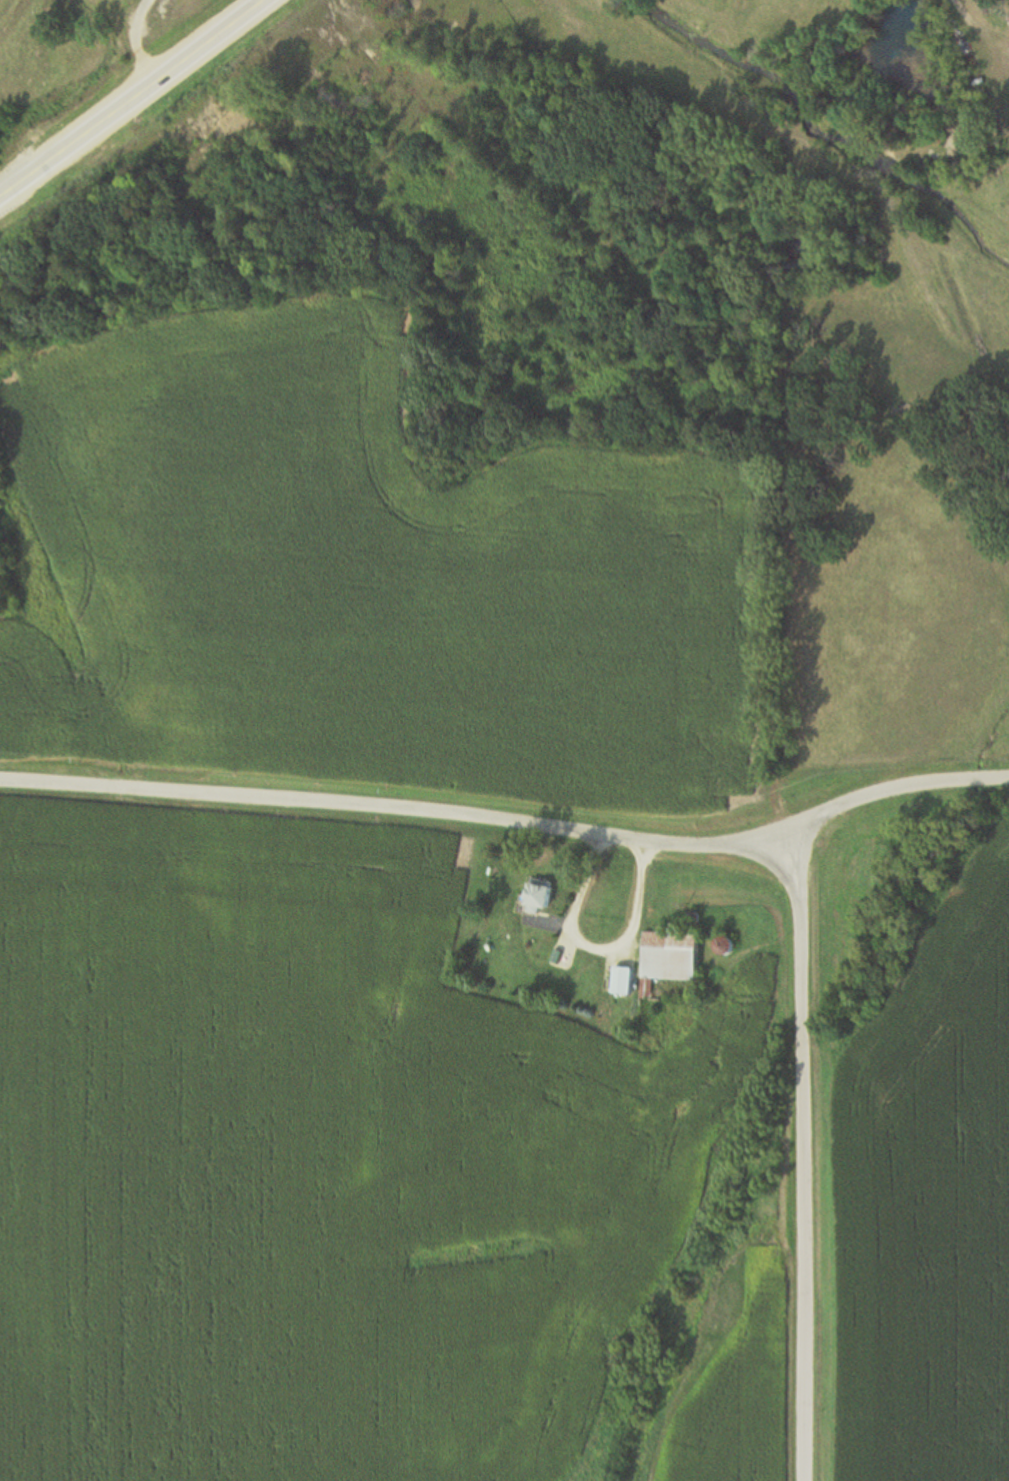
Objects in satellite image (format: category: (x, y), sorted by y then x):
road: (961, 10)
building: (1007, 18)
road: (133, 42)
road: (131, 98)
road: (697, 339)
road: (509, 820)
building: (538, 896)
building: (722, 947)
building: (669, 958)
building: (621, 981)
road: (805, 1149)

